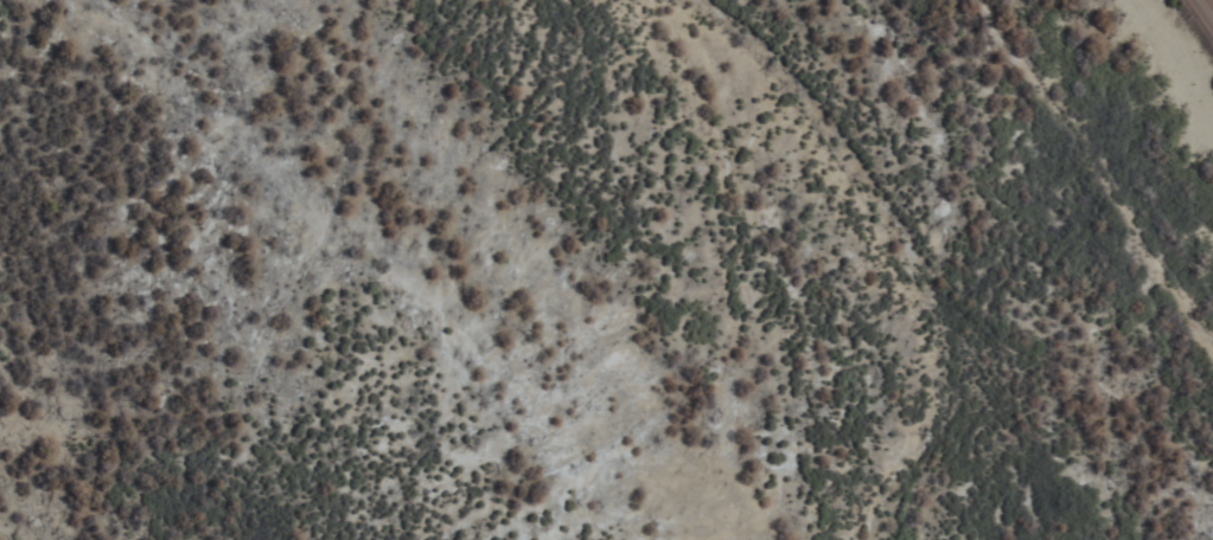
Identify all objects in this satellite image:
road: (1202, 13)

